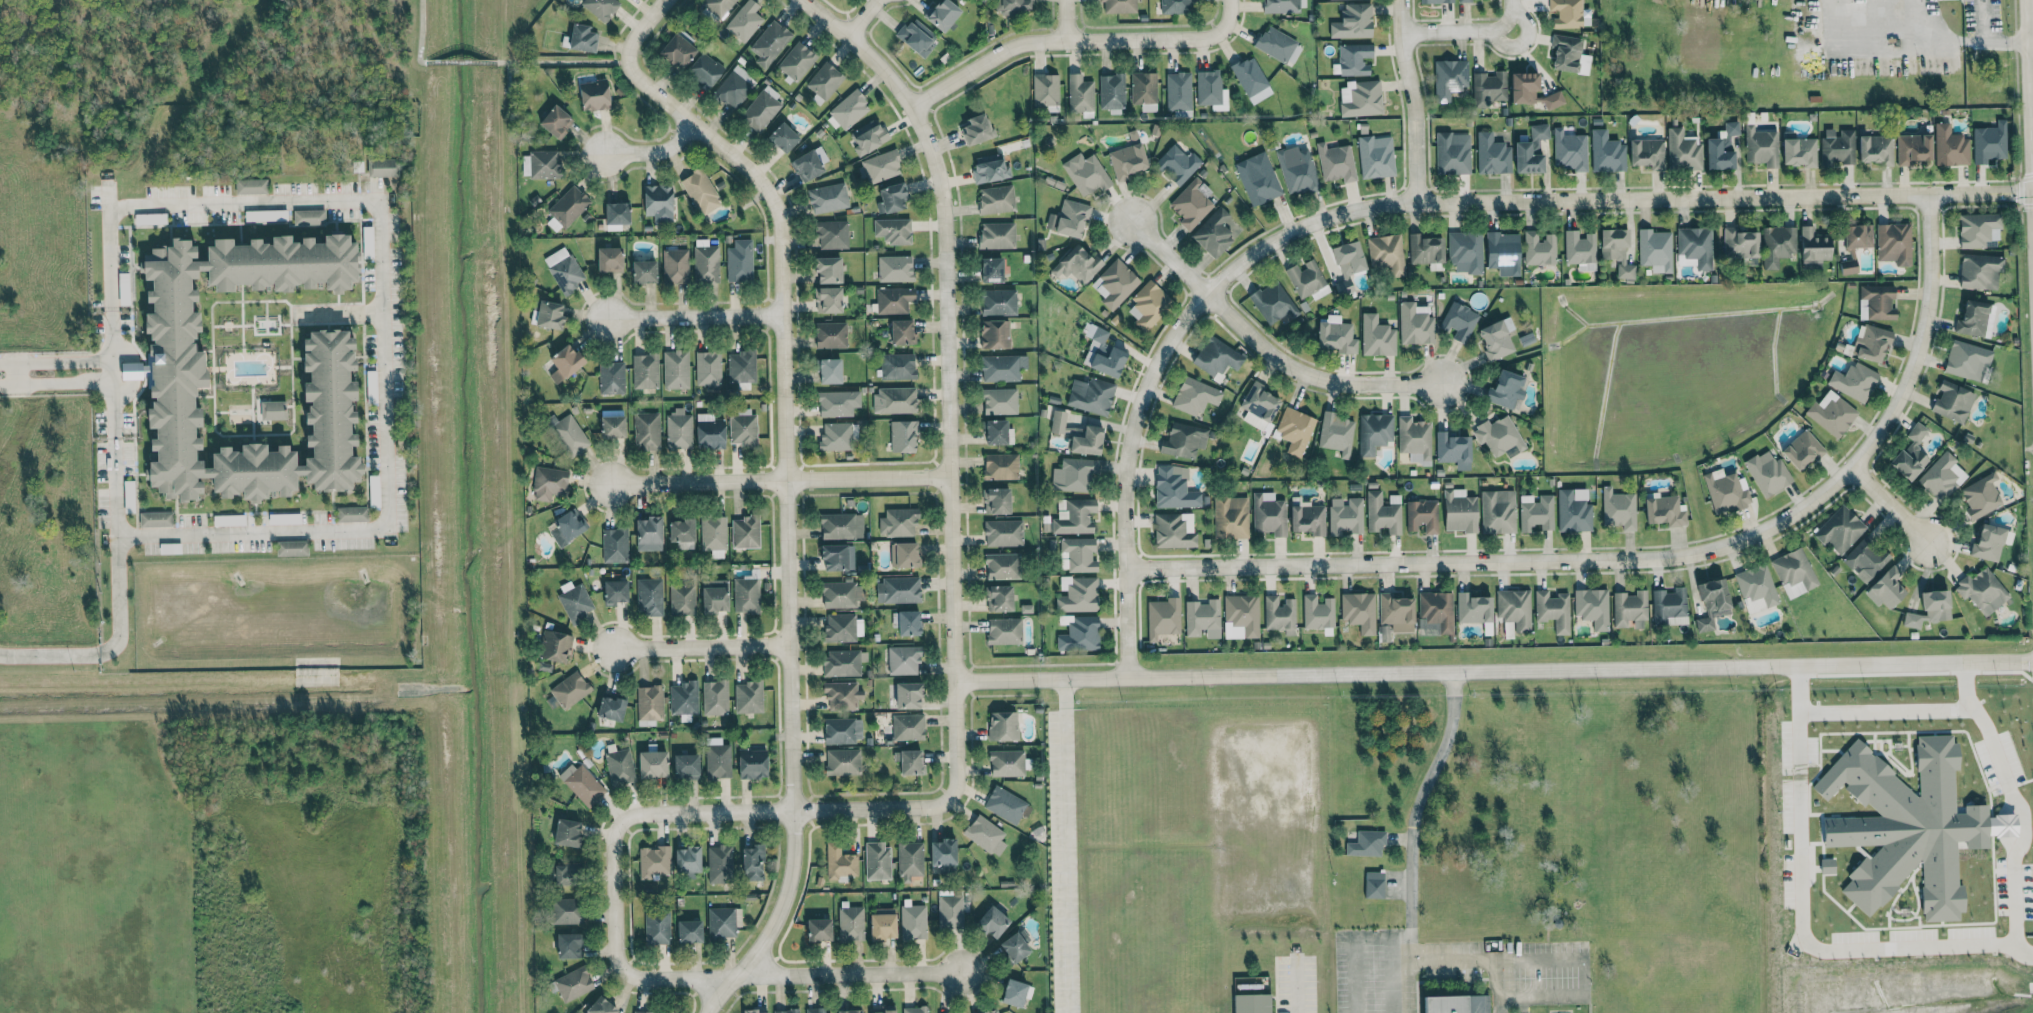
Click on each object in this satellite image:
building: (1463, 0)
building: (1436, 1)
building: (718, 6)
building: (1013, 6)
building: (1119, 6)
building: (1176, 6)
building: (1281, 6)
building: (600, 8)
building: (1566, 13)
building: (942, 14)
road: (1512, 15)
road: (862, 17)
road: (1228, 17)
road: (1065, 20)
building: (744, 21)
building: (1353, 22)
road: (641, 28)
road: (1458, 30)
building: (915, 37)
building: (582, 38)
road: (1897, 38)
road: (1057, 41)
road: (1987, 42)
building: (770, 43)
building: (1276, 44)
building: (677, 52)
building: (1354, 59)
road: (493, 61)
building: (796, 61)
building: (704, 71)
building: (1449, 78)
building: (1251, 80)
building: (824, 82)
building: (733, 88)
building: (1488, 88)
building: (1144, 90)
building: (1211, 90)
building: (1045, 91)
building: (1112, 91)
building: (1178, 91)
building: (1530, 91)
building: (1080, 93)
building: (594, 95)
building: (1360, 98)
road: (1413, 100)
building: (761, 110)
building: (848, 110)
building: (556, 122)
building: (976, 129)
building: (783, 137)
building: (869, 139)
building: (1989, 143)
building: (1761, 146)
building: (1950, 146)
building: (1837, 147)
building: (1721, 148)
building: (1875, 149)
building: (1912, 149)
road: (651, 150)
building: (1531, 150)
building: (1569, 151)
building: (1683, 151)
building: (1799, 152)
building: (1452, 153)
building: (1606, 153)
building: (1647, 153)
building: (1492, 155)
building: (1376, 157)
building: (1128, 160)
building: (1336, 162)
building: (544, 164)
building: (809, 164)
building: (1177, 164)
building: (881, 166)
building: (381, 167)
building: (990, 168)
building: (1297, 171)
building: (1086, 173)
building: (1257, 183)
building: (251, 186)
building: (700, 192)
building: (828, 198)
building: (892, 198)
building: (996, 199)
road: (249, 202)
road: (1403, 202)
building: (658, 203)
building: (1192, 203)
building: (566, 208)
building: (265, 215)
building: (616, 215)
building: (308, 217)
building: (149, 218)
building: (1068, 219)
building: (893, 230)
building: (1978, 230)
building: (1216, 232)
building: (832, 234)
building: (996, 235)
building: (1857, 236)
building: (368, 242)
building: (1739, 243)
building: (1894, 243)
building: (1695, 245)
building: (1777, 245)
building: (1539, 248)
building: (1813, 248)
building: (1425, 249)
building: (1580, 250)
building: (1655, 250)
building: (1616, 251)
building: (1465, 252)
building: (1387, 253)
building: (1503, 253)
building: (609, 259)
building: (739, 260)
building: (705, 264)
building: (1347, 264)
building: (1077, 265)
building: (675, 266)
building: (1847, 267)
building: (895, 268)
building: (991, 269)
building: (564, 270)
building: (827, 270)
building: (644, 271)
building: (1980, 271)
building: (1307, 280)
building: (1115, 284)
building: (123, 288)
building: (827, 300)
building: (892, 300)
building: (998, 302)
building: (1272, 302)
building: (1878, 302)
building: (1148, 305)
road: (338, 312)
building: (548, 315)
road: (693, 316)
building: (1975, 319)
building: (1459, 321)
building: (1415, 323)
building: (901, 332)
building: (995, 334)
building: (830, 335)
building: (1336, 335)
building: (1376, 336)
building: (1496, 338)
building: (1871, 342)
road: (1260, 345)
building: (1103, 354)
building: (1216, 356)
building: (1967, 361)
road: (55, 362)
building: (564, 363)
building: (897, 366)
building: (162, 367)
building: (741, 367)
building: (708, 368)
building: (1002, 368)
building: (675, 369)
road: (111, 370)
building: (645, 371)
building: (829, 371)
road: (14, 373)
road: (949, 377)
building: (611, 378)
road: (56, 380)
building: (1853, 381)
building: (371, 385)
building: (1506, 390)
building: (1091, 395)
building: (1195, 396)
building: (894, 400)
building: (999, 401)
building: (1952, 401)
building: (1260, 402)
building: (838, 403)
building: (273, 410)
building: (1831, 413)
building: (1057, 421)
building: (612, 427)
building: (678, 429)
building: (743, 429)
building: (1295, 430)
building: (646, 431)
building: (709, 432)
building: (997, 432)
building: (1373, 432)
building: (1336, 433)
building: (567, 434)
building: (836, 436)
building: (903, 436)
building: (1499, 436)
building: (1414, 439)
building: (1084, 440)
building: (1183, 440)
building: (1453, 450)
building: (1802, 450)
building: (1910, 454)
building: (1000, 466)
building: (1767, 473)
building: (1074, 475)
building: (1942, 477)
road: (780, 480)
building: (549, 483)
building: (1174, 488)
building: (1725, 491)
building: (128, 496)
building: (1980, 496)
road: (1889, 498)
building: (996, 501)
building: (1618, 509)
building: (1573, 510)
building: (1664, 510)
building: (1459, 511)
building: (1497, 511)
building: (1383, 513)
building: (1536, 513)
building: (351, 514)
building: (1268, 514)
building: (1422, 515)
building: (1074, 516)
building: (1345, 516)
road: (786, 517)
building: (1230, 517)
building: (284, 518)
building: (1307, 518)
building: (155, 519)
building: (228, 520)
building: (898, 522)
building: (568, 526)
building: (841, 526)
road: (310, 529)
building: (1839, 530)
building: (713, 532)
building: (745, 532)
building: (1172, 532)
building: (681, 533)
building: (1003, 533)
building: (648, 534)
building: (1988, 542)
building: (614, 545)
building: (291, 548)
building: (904, 554)
building: (1077, 555)
road: (1646, 555)
building: (838, 557)
building: (1865, 559)
building: (1002, 566)
building: (1794, 572)
building: (1756, 588)
building: (1886, 588)
building: (897, 590)
building: (1982, 591)
building: (615, 592)
building: (841, 594)
building: (1077, 594)
building: (746, 595)
road: (117, 596)
building: (714, 596)
building: (649, 597)
building: (998, 598)
building: (682, 600)
building: (575, 601)
building: (1711, 602)
building: (1592, 607)
building: (1473, 608)
building: (1514, 608)
building: (1930, 609)
building: (1436, 610)
building: (1553, 610)
building: (1630, 610)
building: (1358, 611)
building: (1317, 612)
building: (1396, 612)
building: (1279, 615)
building: (1240, 616)
building: (1163, 618)
building: (1202, 619)
building: (908, 623)
building: (843, 627)
building: (1004, 631)
building: (1080, 634)
building: (554, 646)
road: (698, 648)
road: (49, 652)
building: (903, 660)
building: (843, 662)
road: (1494, 671)
building: (570, 689)
building: (842, 695)
building: (908, 695)
building: (715, 697)
building: (748, 697)
building: (683, 698)
building: (649, 703)
building: (611, 708)
road: (1860, 713)
building: (1003, 726)
building: (907, 727)
building: (842, 730)
building: (717, 758)
building: (842, 762)
building: (909, 762)
building: (1006, 763)
building: (652, 764)
building: (752, 764)
building: (685, 766)
building: (620, 767)
building: (582, 784)
building: (1005, 804)
road: (1413, 805)
road: (2019, 807)
road: (783, 810)
building: (1907, 826)
building: (566, 833)
building: (985, 835)
building: (1366, 843)
road: (1064, 846)
building: (943, 855)
building: (687, 859)
building: (909, 860)
building: (653, 861)
building: (877, 861)
building: (839, 862)
building: (752, 863)
building: (720, 864)
building: (1826, 869)
building: (562, 875)
building: (1373, 885)
road: (613, 899)
building: (565, 911)
building: (950, 911)
building: (913, 922)
building: (992, 922)
building: (721, 923)
building: (850, 924)
building: (882, 924)
building: (657, 927)
building: (819, 930)
building: (689, 931)
road: (1378, 940)
building: (569, 945)
building: (1015, 946)
road: (1508, 960)
road: (800, 975)
building: (573, 983)
road: (1292, 984)
building: (1015, 992)
road: (1525, 996)
building: (1251, 1003)
building: (1456, 1004)
building: (601, 1006)
building: (915, 1009)
building: (817, 1010)
building: (751, 1011)
building: (786, 1011)
building: (849, 1011)
building: (990, 1011)
building: (642, 1012)
building: (882, 1012)

